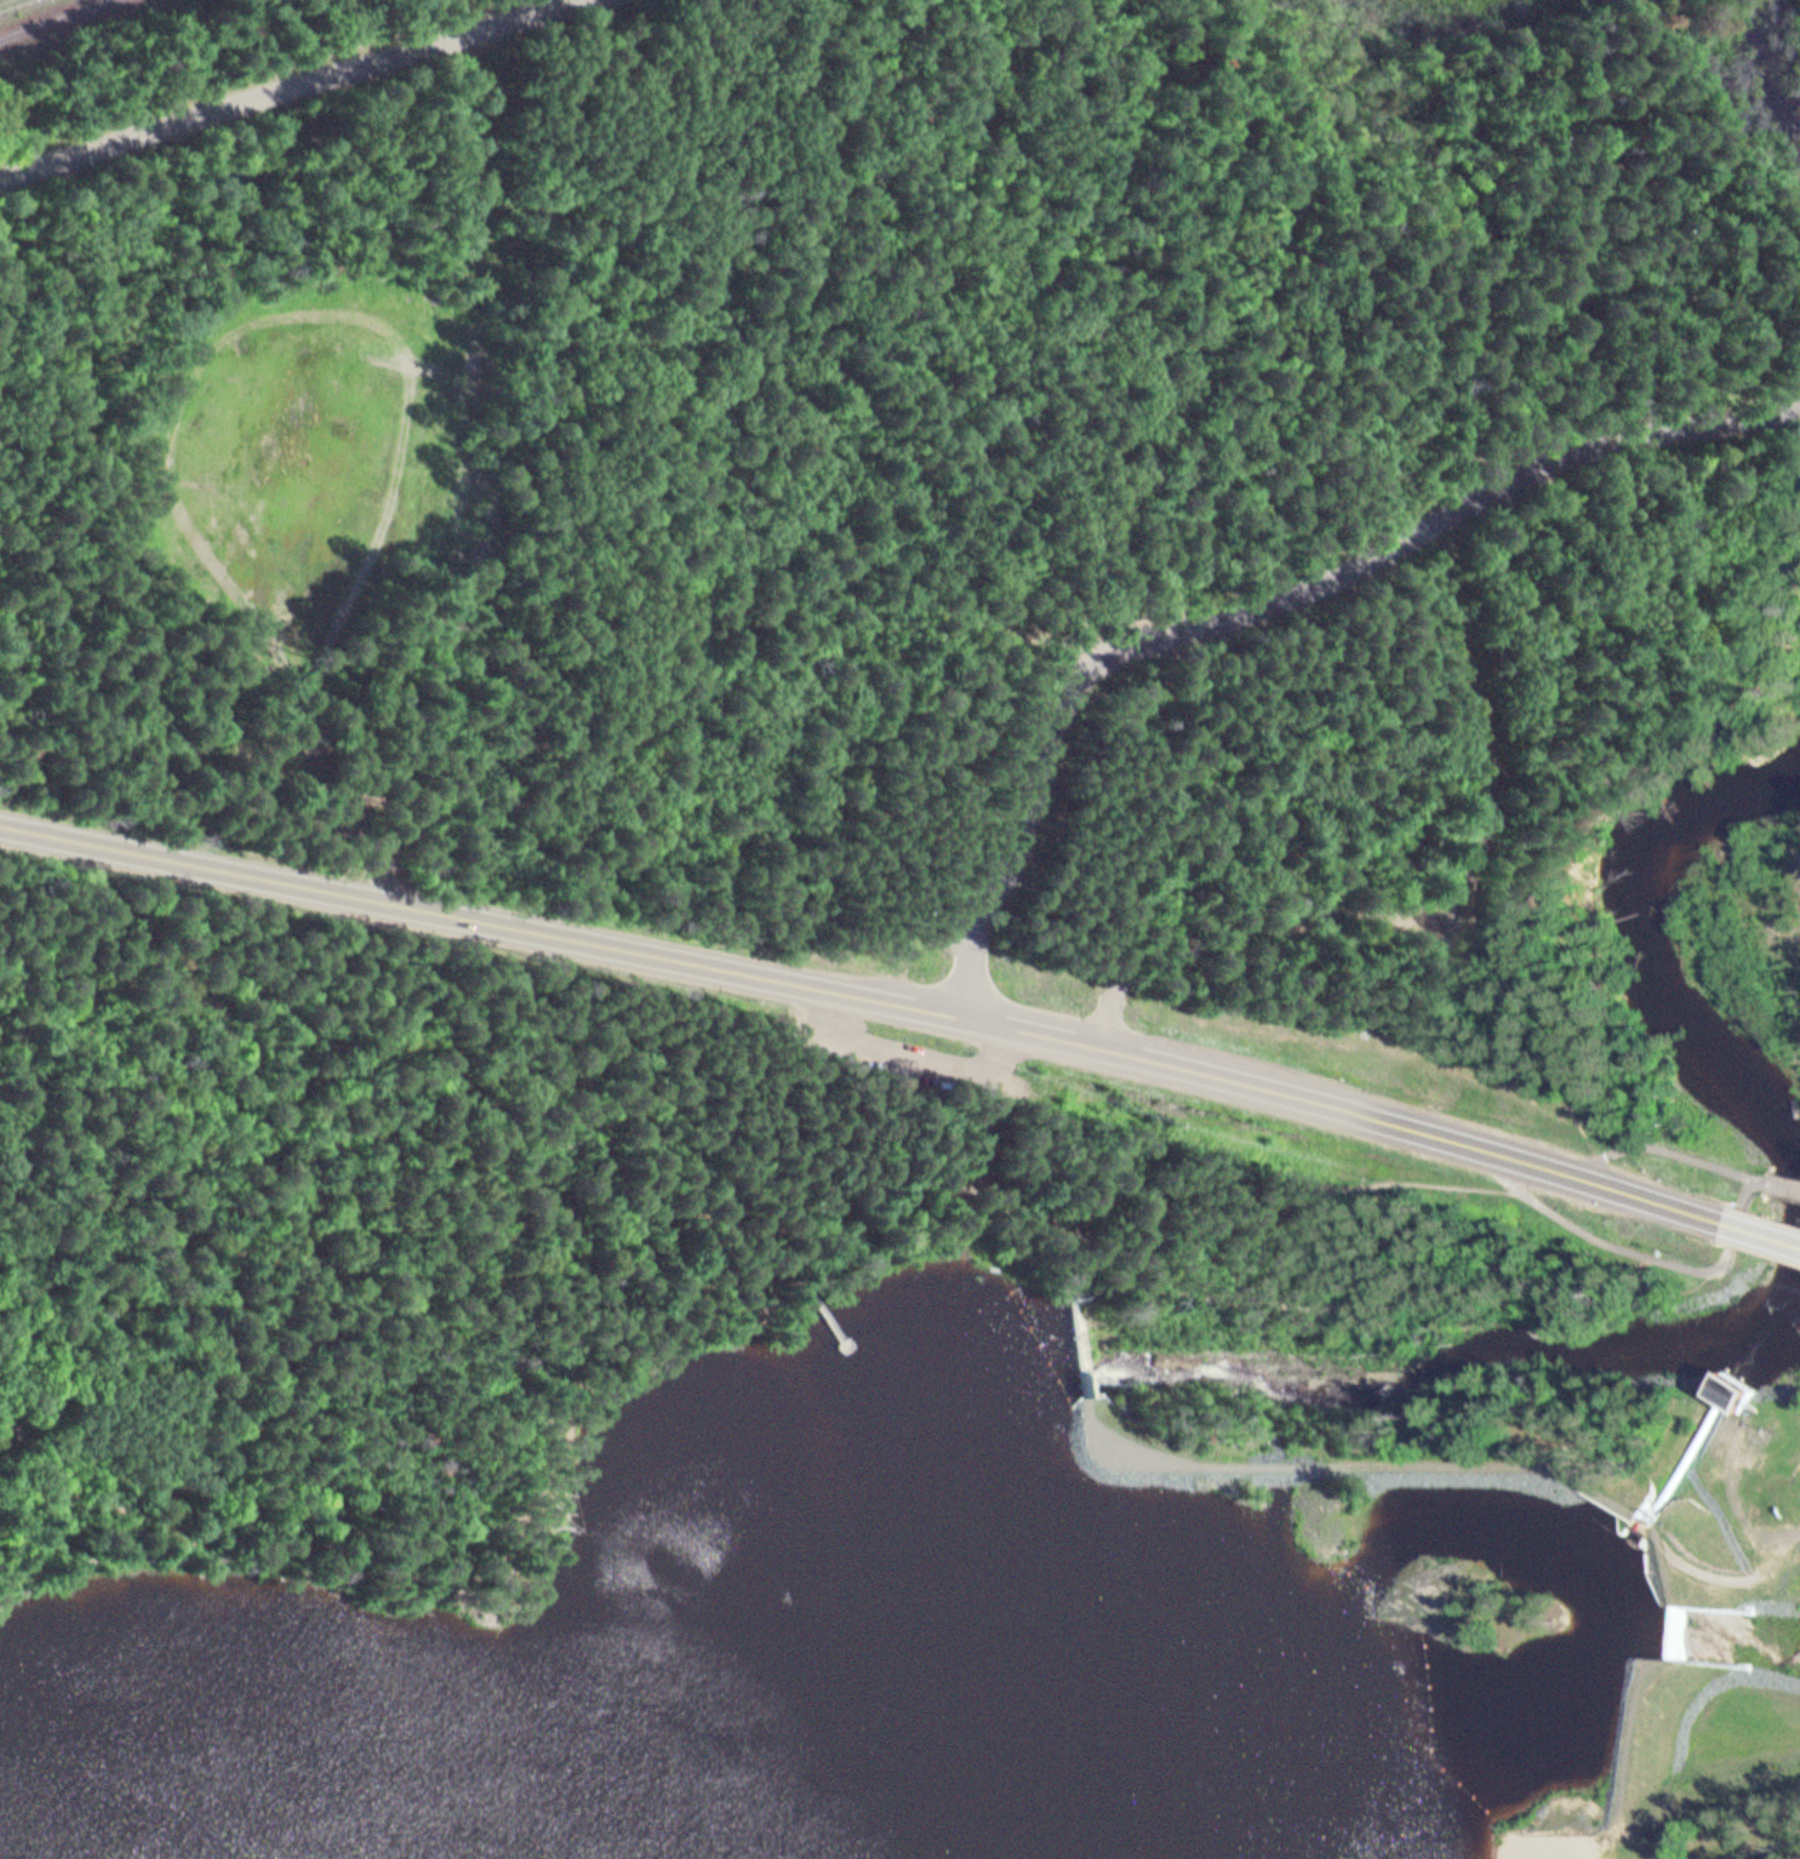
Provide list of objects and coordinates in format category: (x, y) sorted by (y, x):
railway: (19, 6)
railway: (53, 18)
road: (287, 87)
road: (1269, 604)
building: (1509, 903)
river: (1640, 961)
road: (872, 997)
parking lot: (908, 1064)
road: (933, 1071)
road: (985, 1126)
road: (845, 1152)
road: (1673, 1165)
road: (1783, 1197)
road: (110, 1220)
road: (713, 1222)
road: (1738, 1228)
road: (1766, 1230)
road: (772, 1243)
road: (1611, 1254)
road: (800, 1286)
river: (1768, 1331)
dam: (1082, 1345)
river: (1482, 1373)
river: (1144, 1383)
building: (1730, 1389)
dam: (1079, 1403)
dam: (1635, 1521)
dam: (1661, 1621)
park: (1659, 1838)

